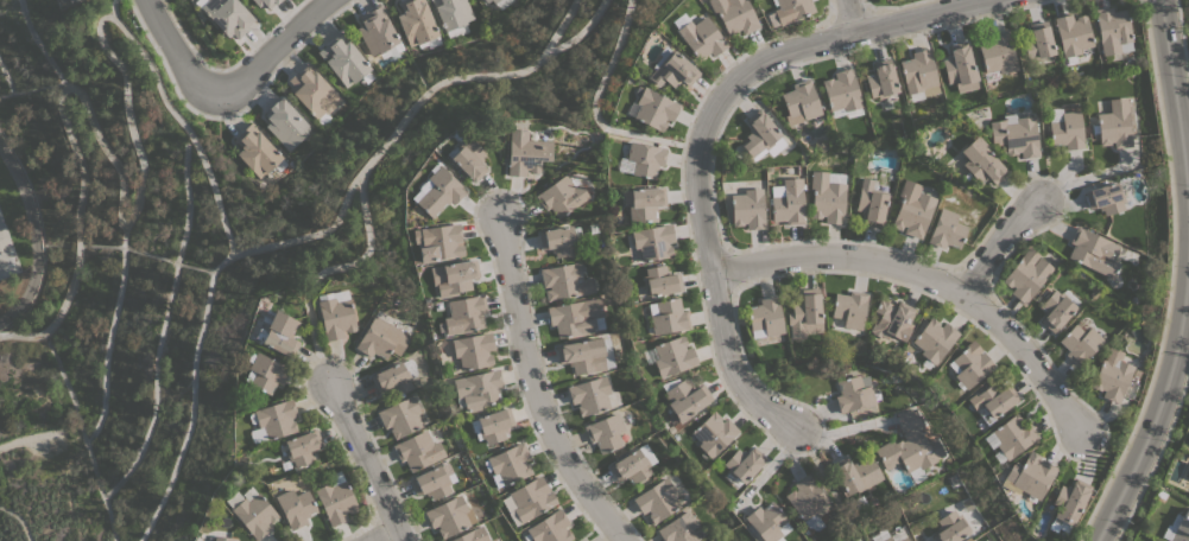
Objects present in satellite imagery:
building: (59, 0)
building: (69, 0)
building: (486, 1)
building: (493, 1)
building: (265, 2)
road: (110, 7)
building: (791, 9)
building: (226, 15)
building: (453, 15)
building: (733, 15)
road: (848, 17)
building: (416, 23)
road: (119, 27)
building: (375, 30)
building: (1112, 30)
road: (581, 32)
building: (1071, 33)
building: (702, 38)
road: (1182, 44)
building: (1038, 45)
road: (271, 50)
building: (997, 52)
road: (176, 53)
building: (343, 59)
building: (959, 68)
building: (671, 69)
building: (919, 75)
building: (880, 79)
building: (841, 90)
building: (314, 93)
building: (799, 102)
road: (593, 108)
building: (653, 109)
building: (285, 123)
building: (1115, 123)
building: (1064, 128)
building: (1014, 134)
building: (761, 136)
road: (697, 139)
building: (255, 151)
building: (525, 153)
road: (1185, 155)
building: (644, 158)
building: (468, 159)
building: (980, 161)
building: (436, 190)
building: (562, 196)
building: (826, 198)
building: (1105, 198)
building: (786, 202)
building: (869, 203)
building: (643, 204)
building: (747, 209)
building: (912, 209)
building: (945, 229)
road: (32, 236)
building: (437, 241)
building: (652, 241)
building: (557, 242)
road: (997, 244)
building: (1093, 252)
road: (324, 268)
building: (1026, 274)
building: (453, 276)
road: (1169, 278)
road: (1184, 278)
road: (925, 279)
building: (562, 280)
building: (660, 280)
building: (848, 310)
building: (1055, 310)
building: (335, 313)
building: (804, 313)
building: (463, 314)
building: (666, 316)
building: (765, 316)
building: (574, 317)
building: (891, 319)
building: (277, 332)
building: (381, 338)
building: (934, 339)
building: (1080, 342)
building: (473, 350)
building: (582, 355)
building: (672, 356)
building: (968, 365)
building: (265, 373)
building: (1112, 375)
building: (391, 380)
road: (532, 387)
building: (476, 389)
building: (589, 395)
building: (853, 395)
building: (685, 397)
building: (992, 400)
building: (400, 416)
building: (272, 420)
building: (492, 425)
building: (608, 431)
building: (713, 433)
building: (1008, 438)
building: (302, 447)
building: (417, 451)
building: (906, 451)
road: (1156, 451)
road: (363, 459)
building: (507, 464)
building: (633, 464)
building: (741, 465)
building: (855, 473)
building: (1027, 476)
building: (1188, 477)
building: (432, 482)
road: (828, 486)
building: (335, 498)
building: (657, 499)
building: (527, 501)
building: (807, 502)
building: (1065, 504)
building: (295, 507)
building: (252, 510)
building: (449, 516)
building: (765, 522)
building: (950, 527)
building: (1181, 527)
building: (550, 528)
building: (678, 528)
road: (385, 535)
building: (472, 535)
building: (888, 536)
building: (222, 539)
building: (581, 540)

